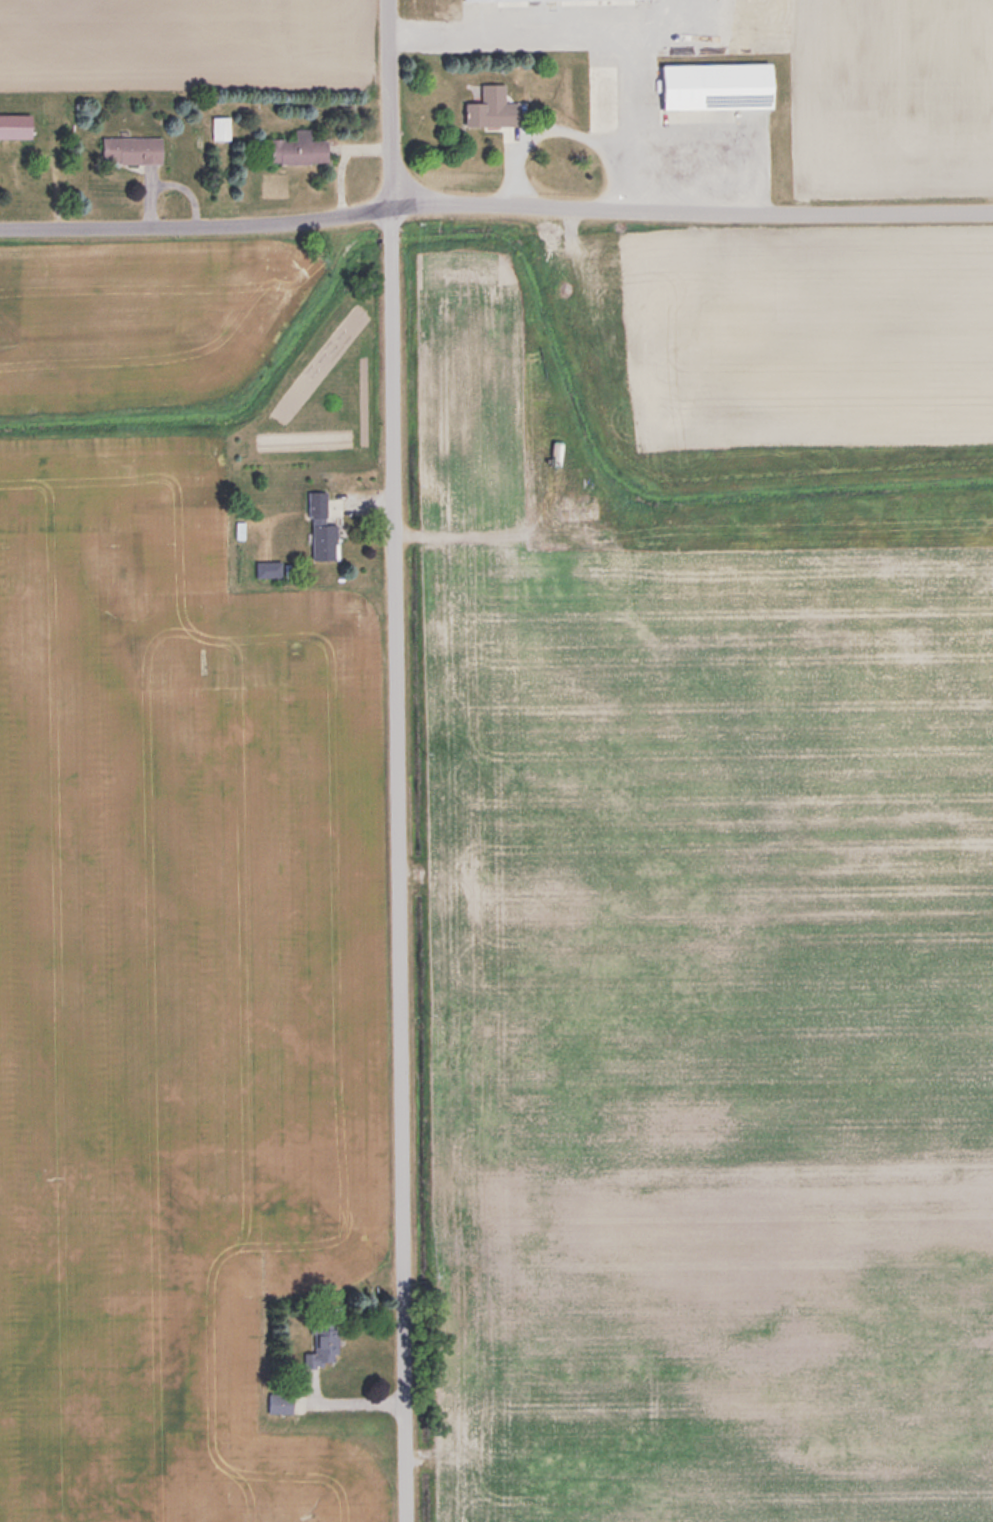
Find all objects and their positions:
building: (720, 86)
building: (602, 97)
building: (494, 108)
building: (16, 126)
road: (567, 130)
building: (134, 149)
building: (301, 149)
road: (495, 203)
building: (555, 476)
building: (322, 527)
building: (269, 568)
building: (538, 575)
road: (398, 760)
building: (324, 1347)

